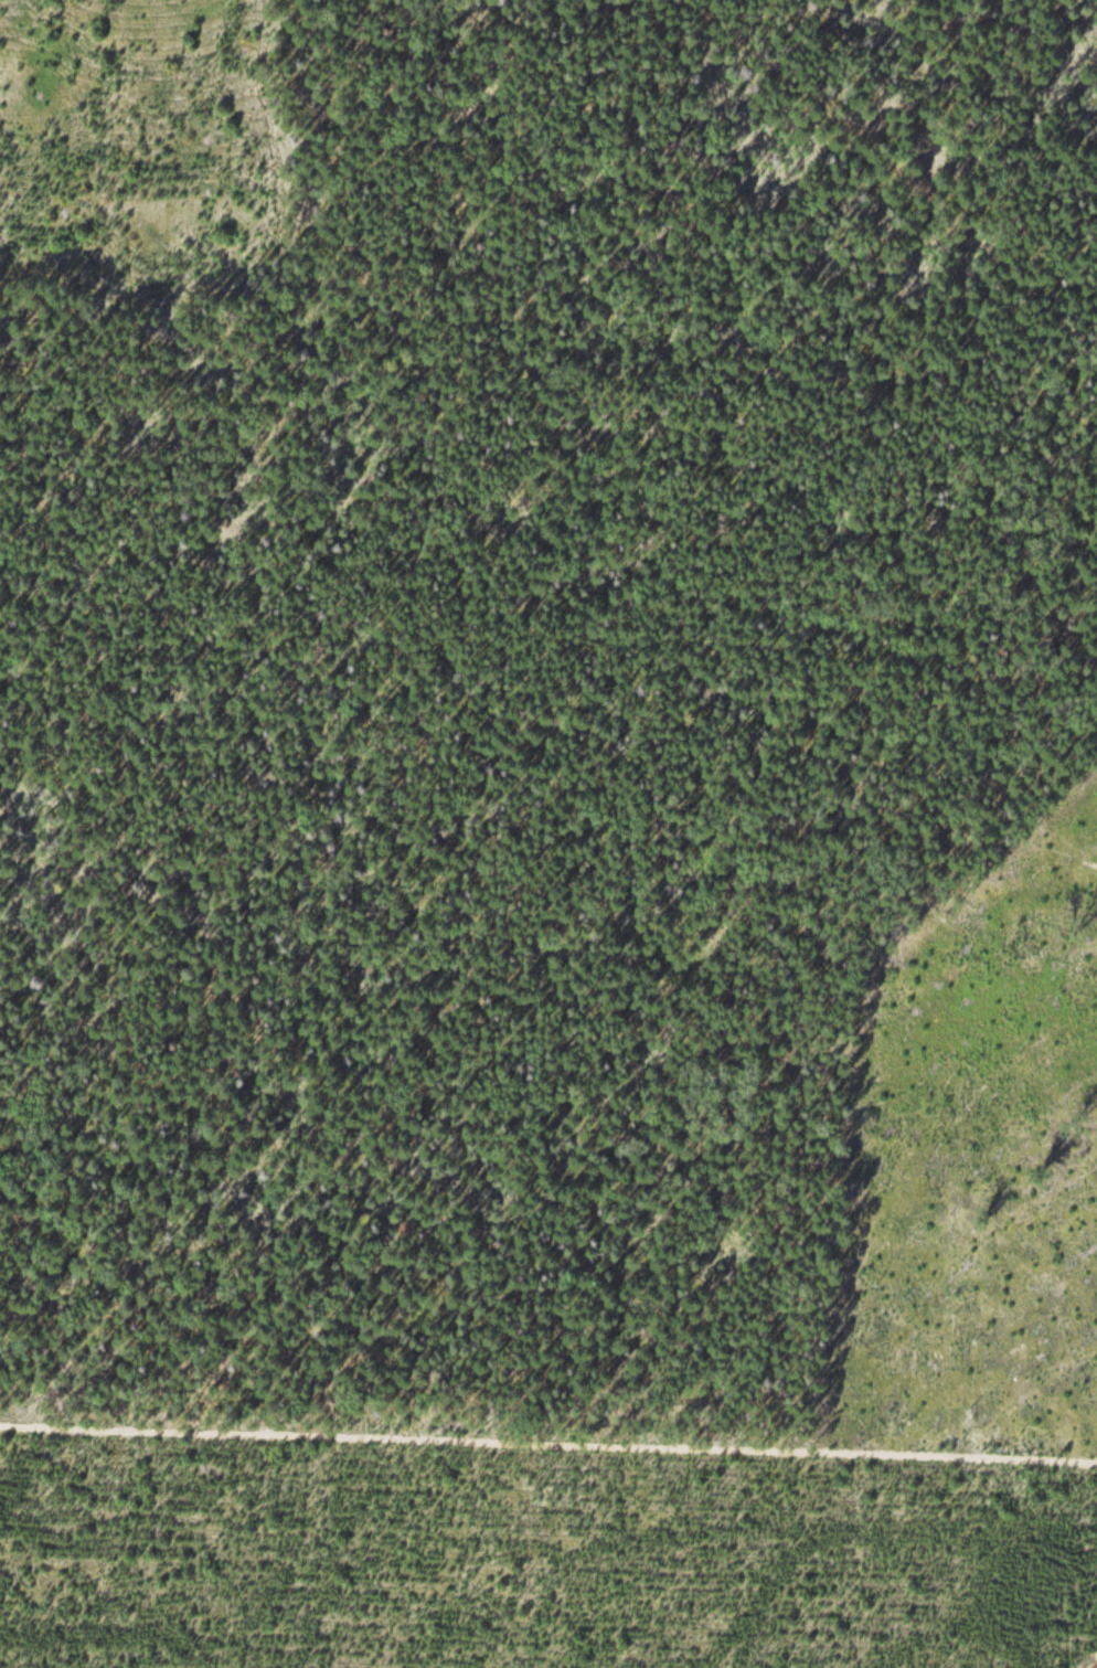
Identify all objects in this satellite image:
road: (255, 283)
road: (548, 1439)

